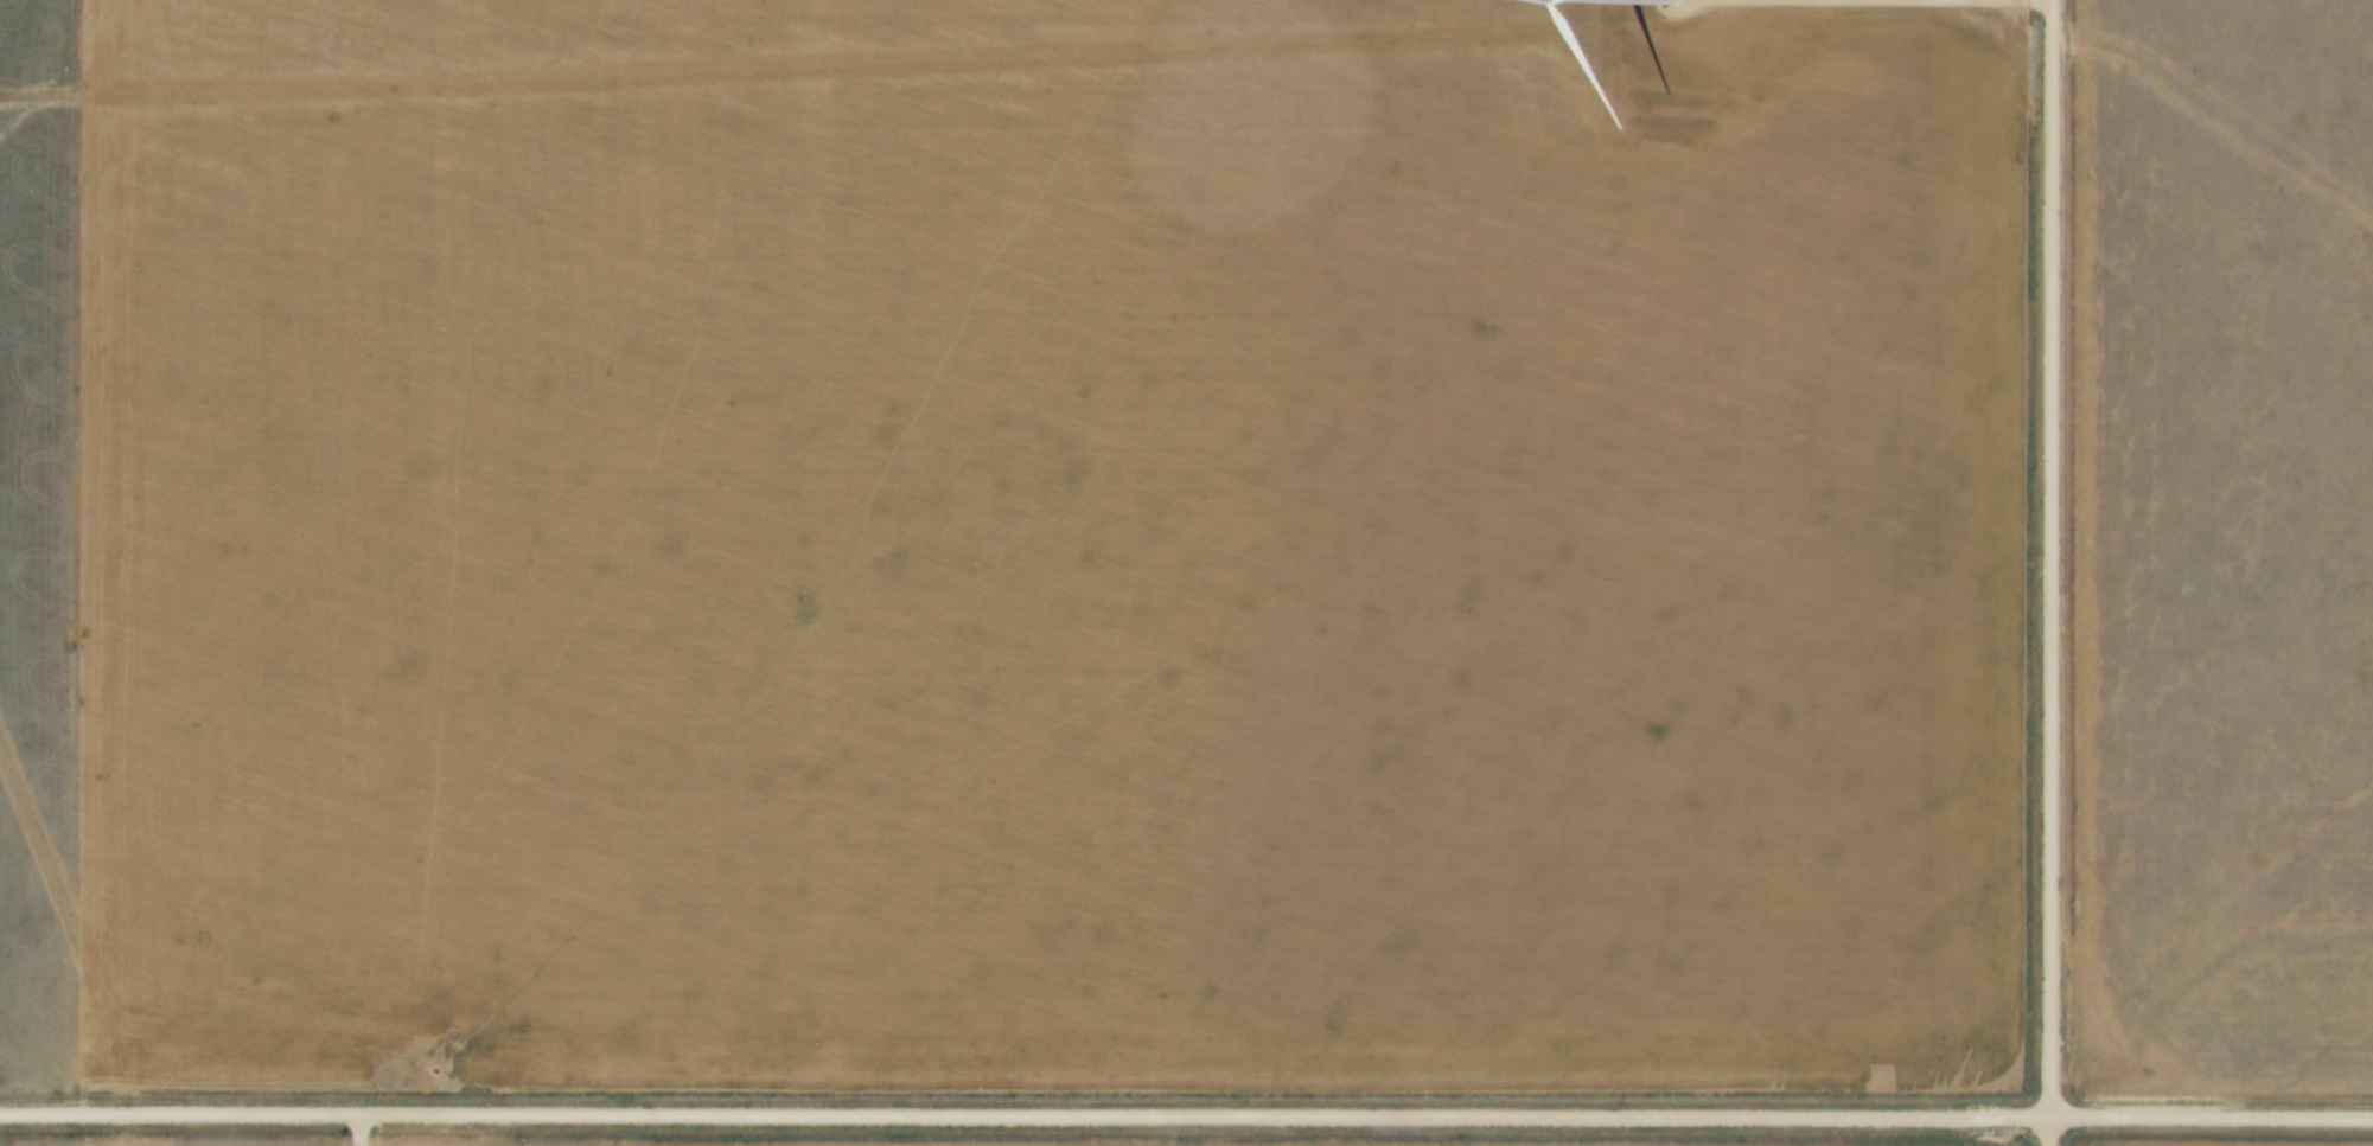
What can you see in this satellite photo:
road: (1880, 1)
road: (2052, 572)
road: (1186, 1116)
road: (363, 1129)

